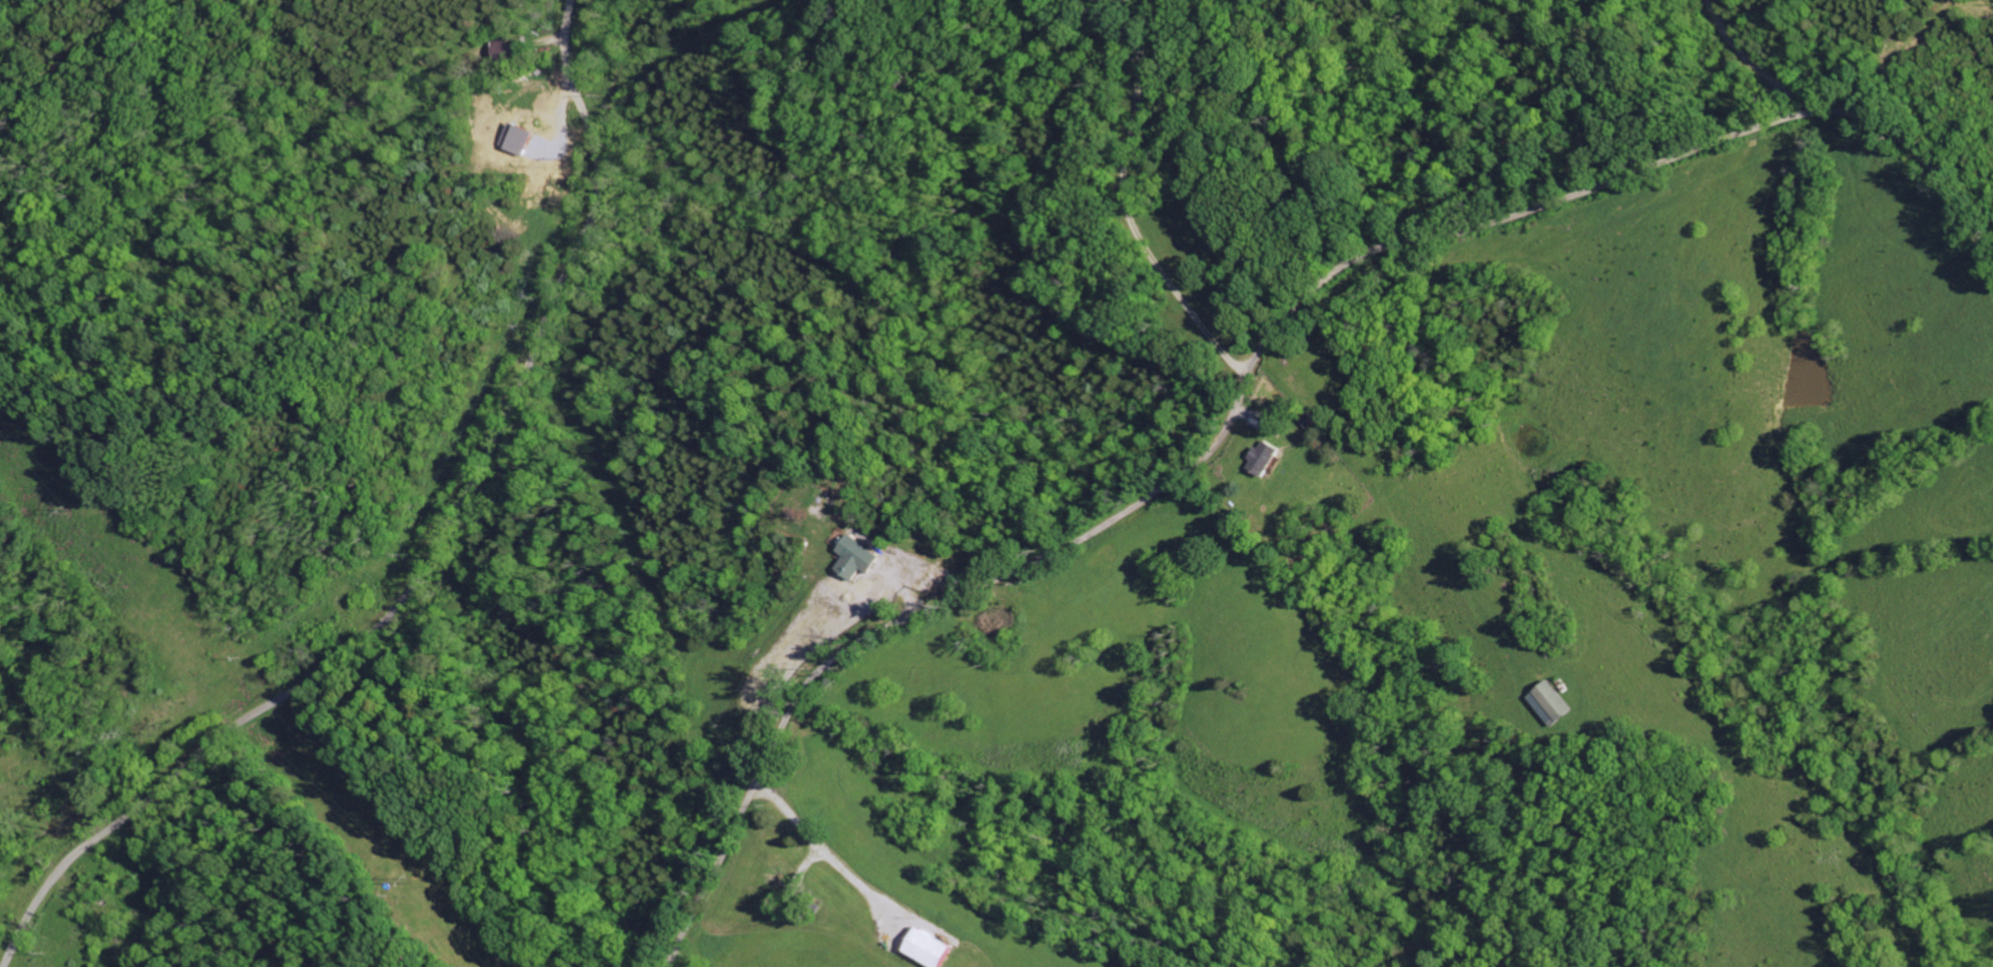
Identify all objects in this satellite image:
road: (1134, 57)
road: (1163, 59)
road: (1753, 66)
road: (1156, 255)
road: (1250, 369)
building: (1308, 422)
building: (1265, 461)
road: (429, 558)
building: (855, 558)
building: (1556, 704)
road: (816, 843)
building: (926, 948)

